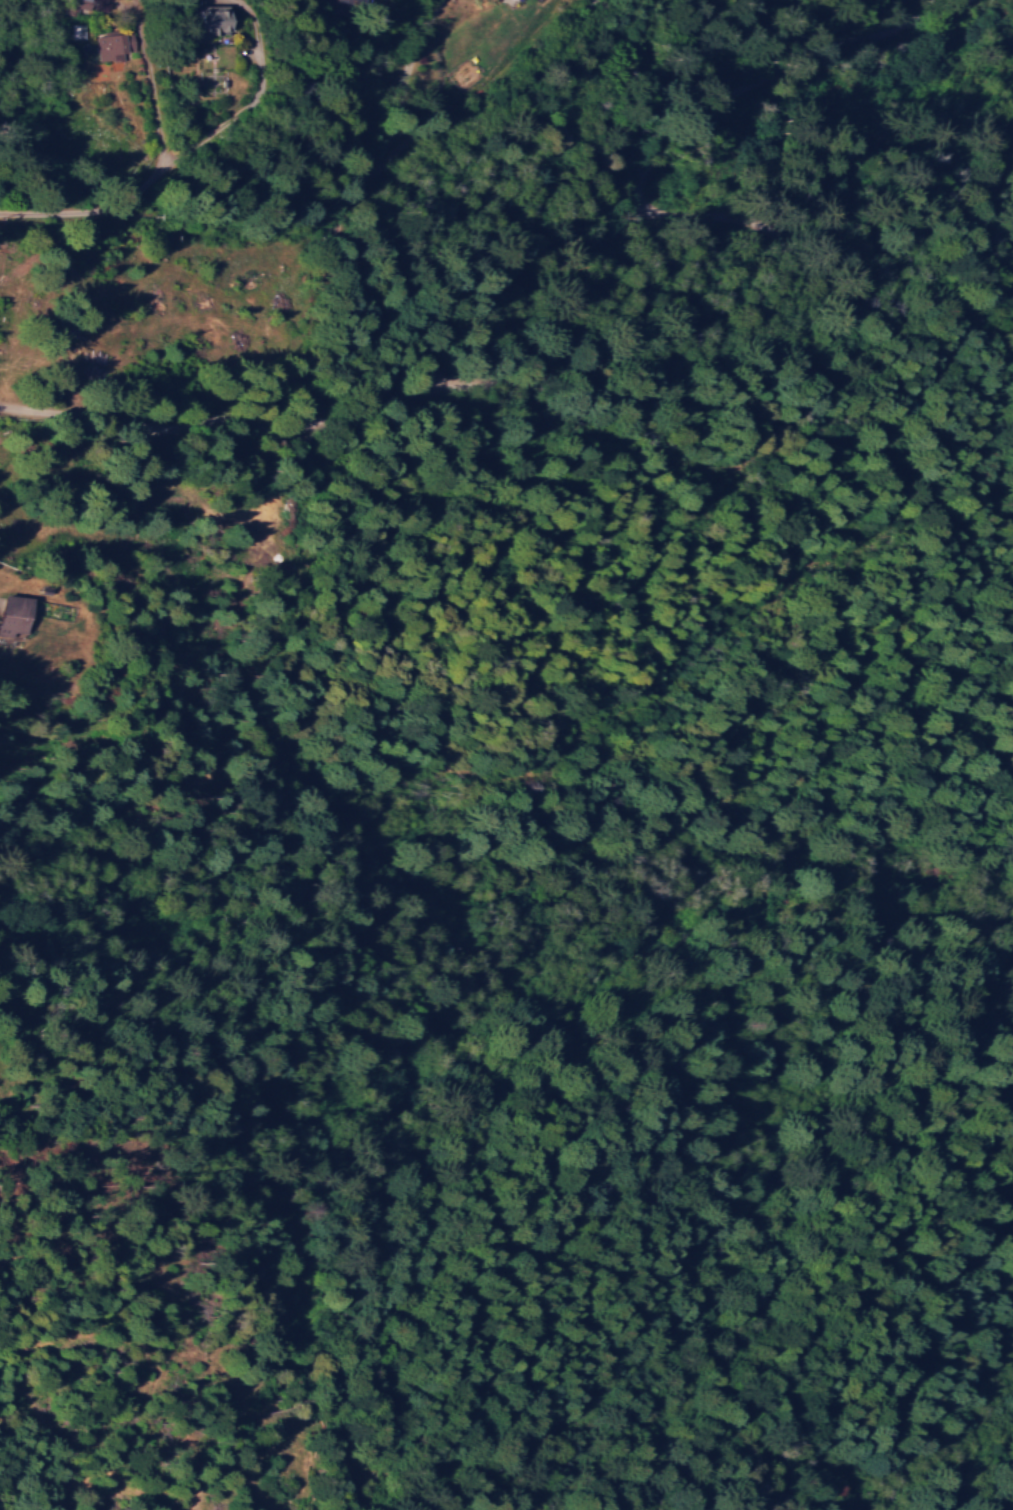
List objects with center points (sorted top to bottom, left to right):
building: (115, 43)
road: (434, 223)
road: (661, 315)
building: (19, 615)

